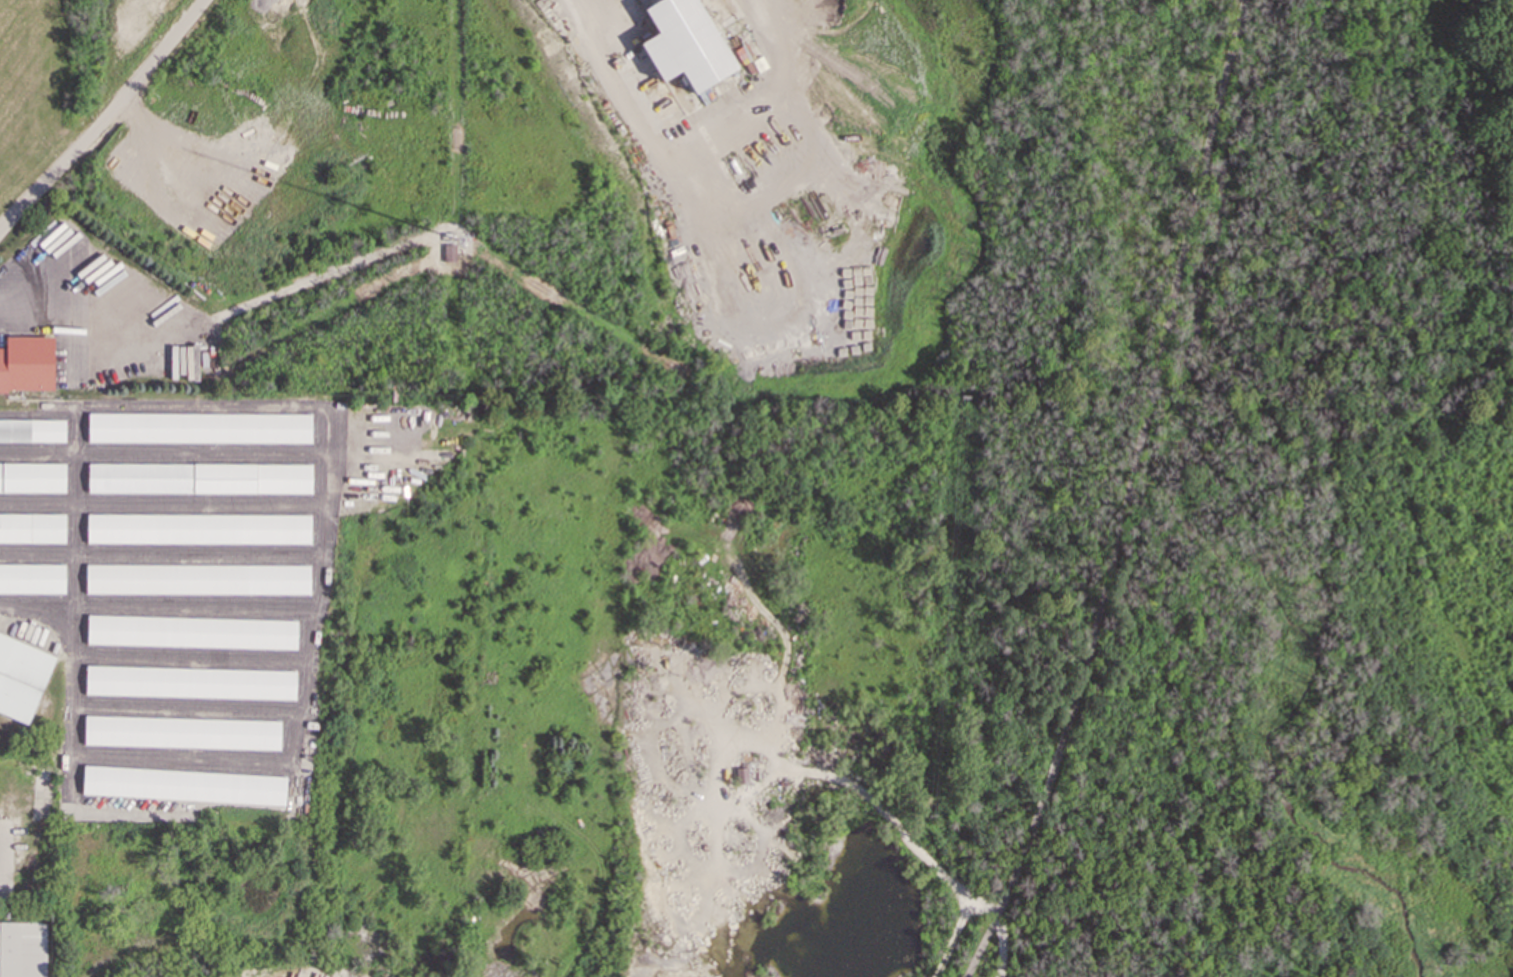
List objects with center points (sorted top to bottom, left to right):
road: (594, 19)
building: (685, 43)
road: (98, 114)
building: (449, 253)
road: (6, 320)
building: (26, 364)
building: (198, 427)
building: (32, 430)
building: (32, 477)
building: (199, 478)
road: (1127, 494)
building: (32, 527)
building: (197, 528)
building: (32, 578)
building: (197, 579)
building: (191, 632)
building: (21, 676)
building: (189, 682)
quarry: (680, 685)
building: (181, 732)
building: (741, 775)
building: (183, 785)
building: (22, 949)
quarry: (1030, 949)

